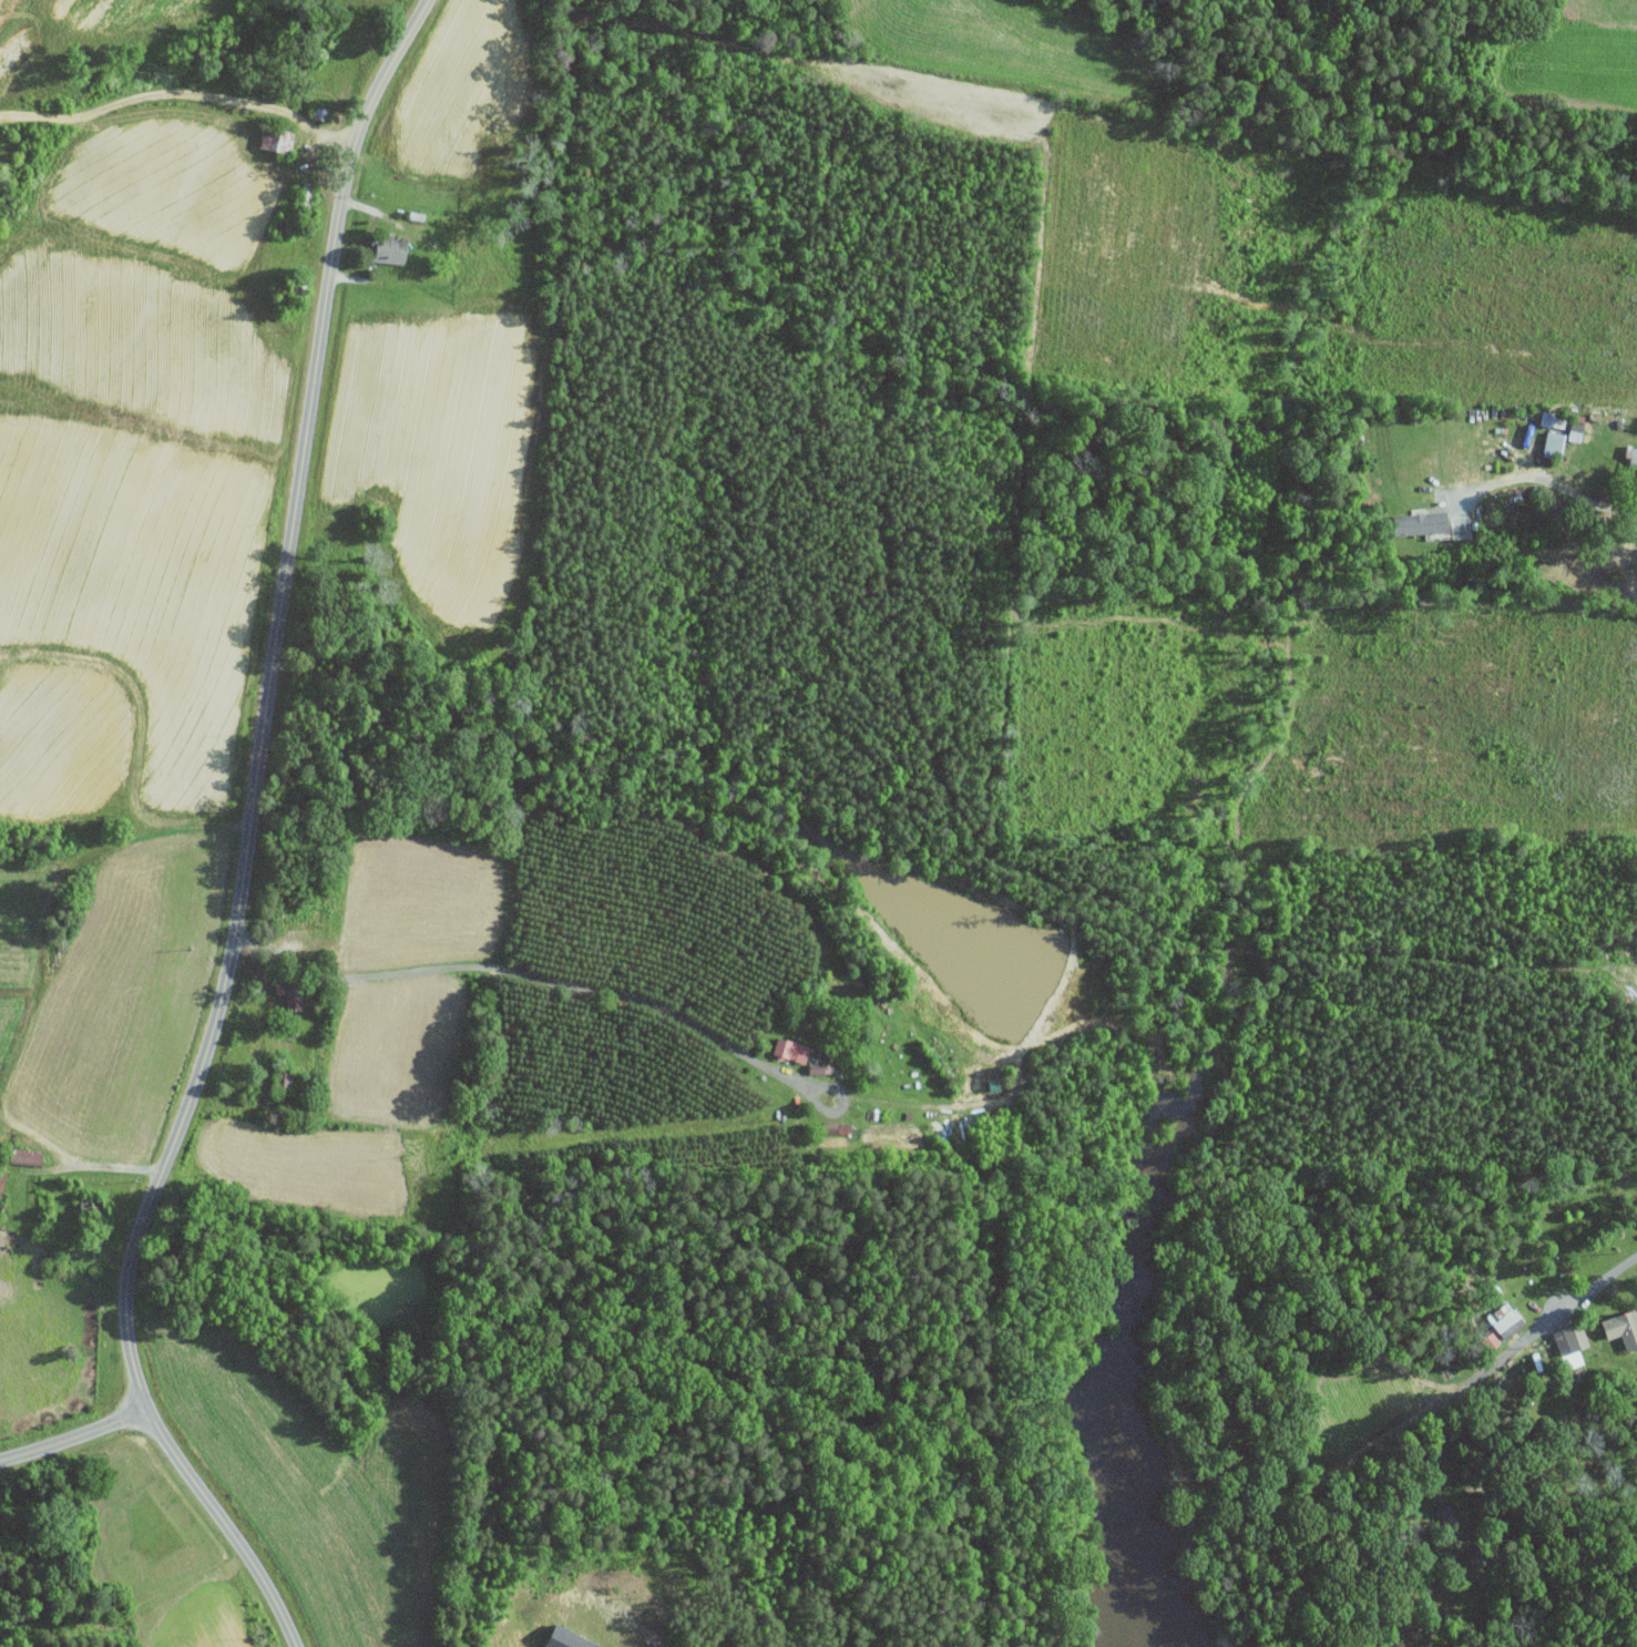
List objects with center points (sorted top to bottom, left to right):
road: (317, 153)
building: (391, 249)
building: (1562, 440)
building: (1630, 457)
road: (1549, 481)
building: (1424, 522)
road: (247, 843)
road: (519, 971)
building: (792, 1048)
building: (820, 1061)
road: (103, 1166)
building: (2, 1183)
road: (1599, 1279)
building: (1501, 1321)
building: (1619, 1327)
building: (1482, 1340)
building: (1572, 1344)
road: (75, 1441)
building: (570, 1638)

